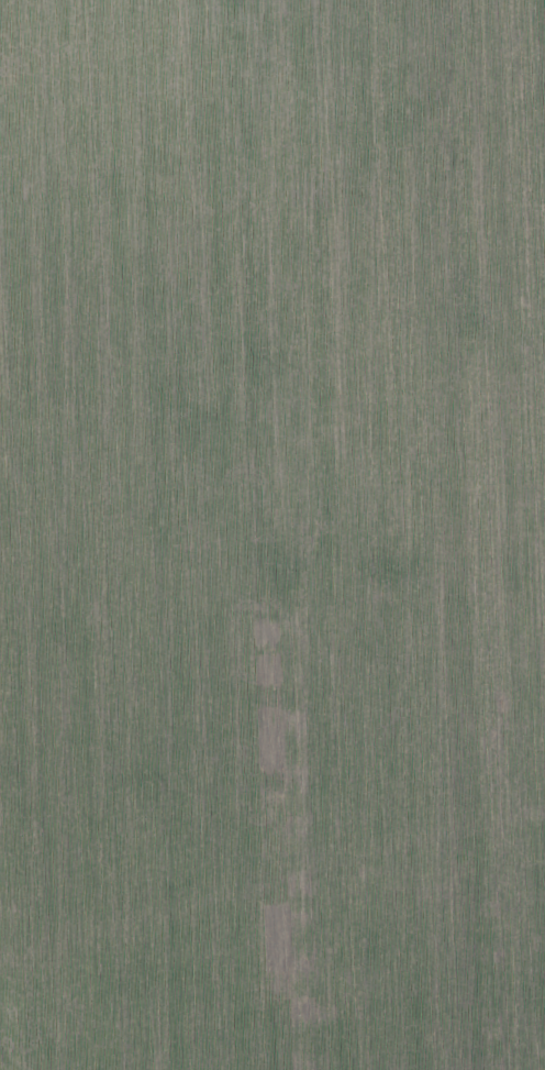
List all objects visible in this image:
road: (272, 878)

